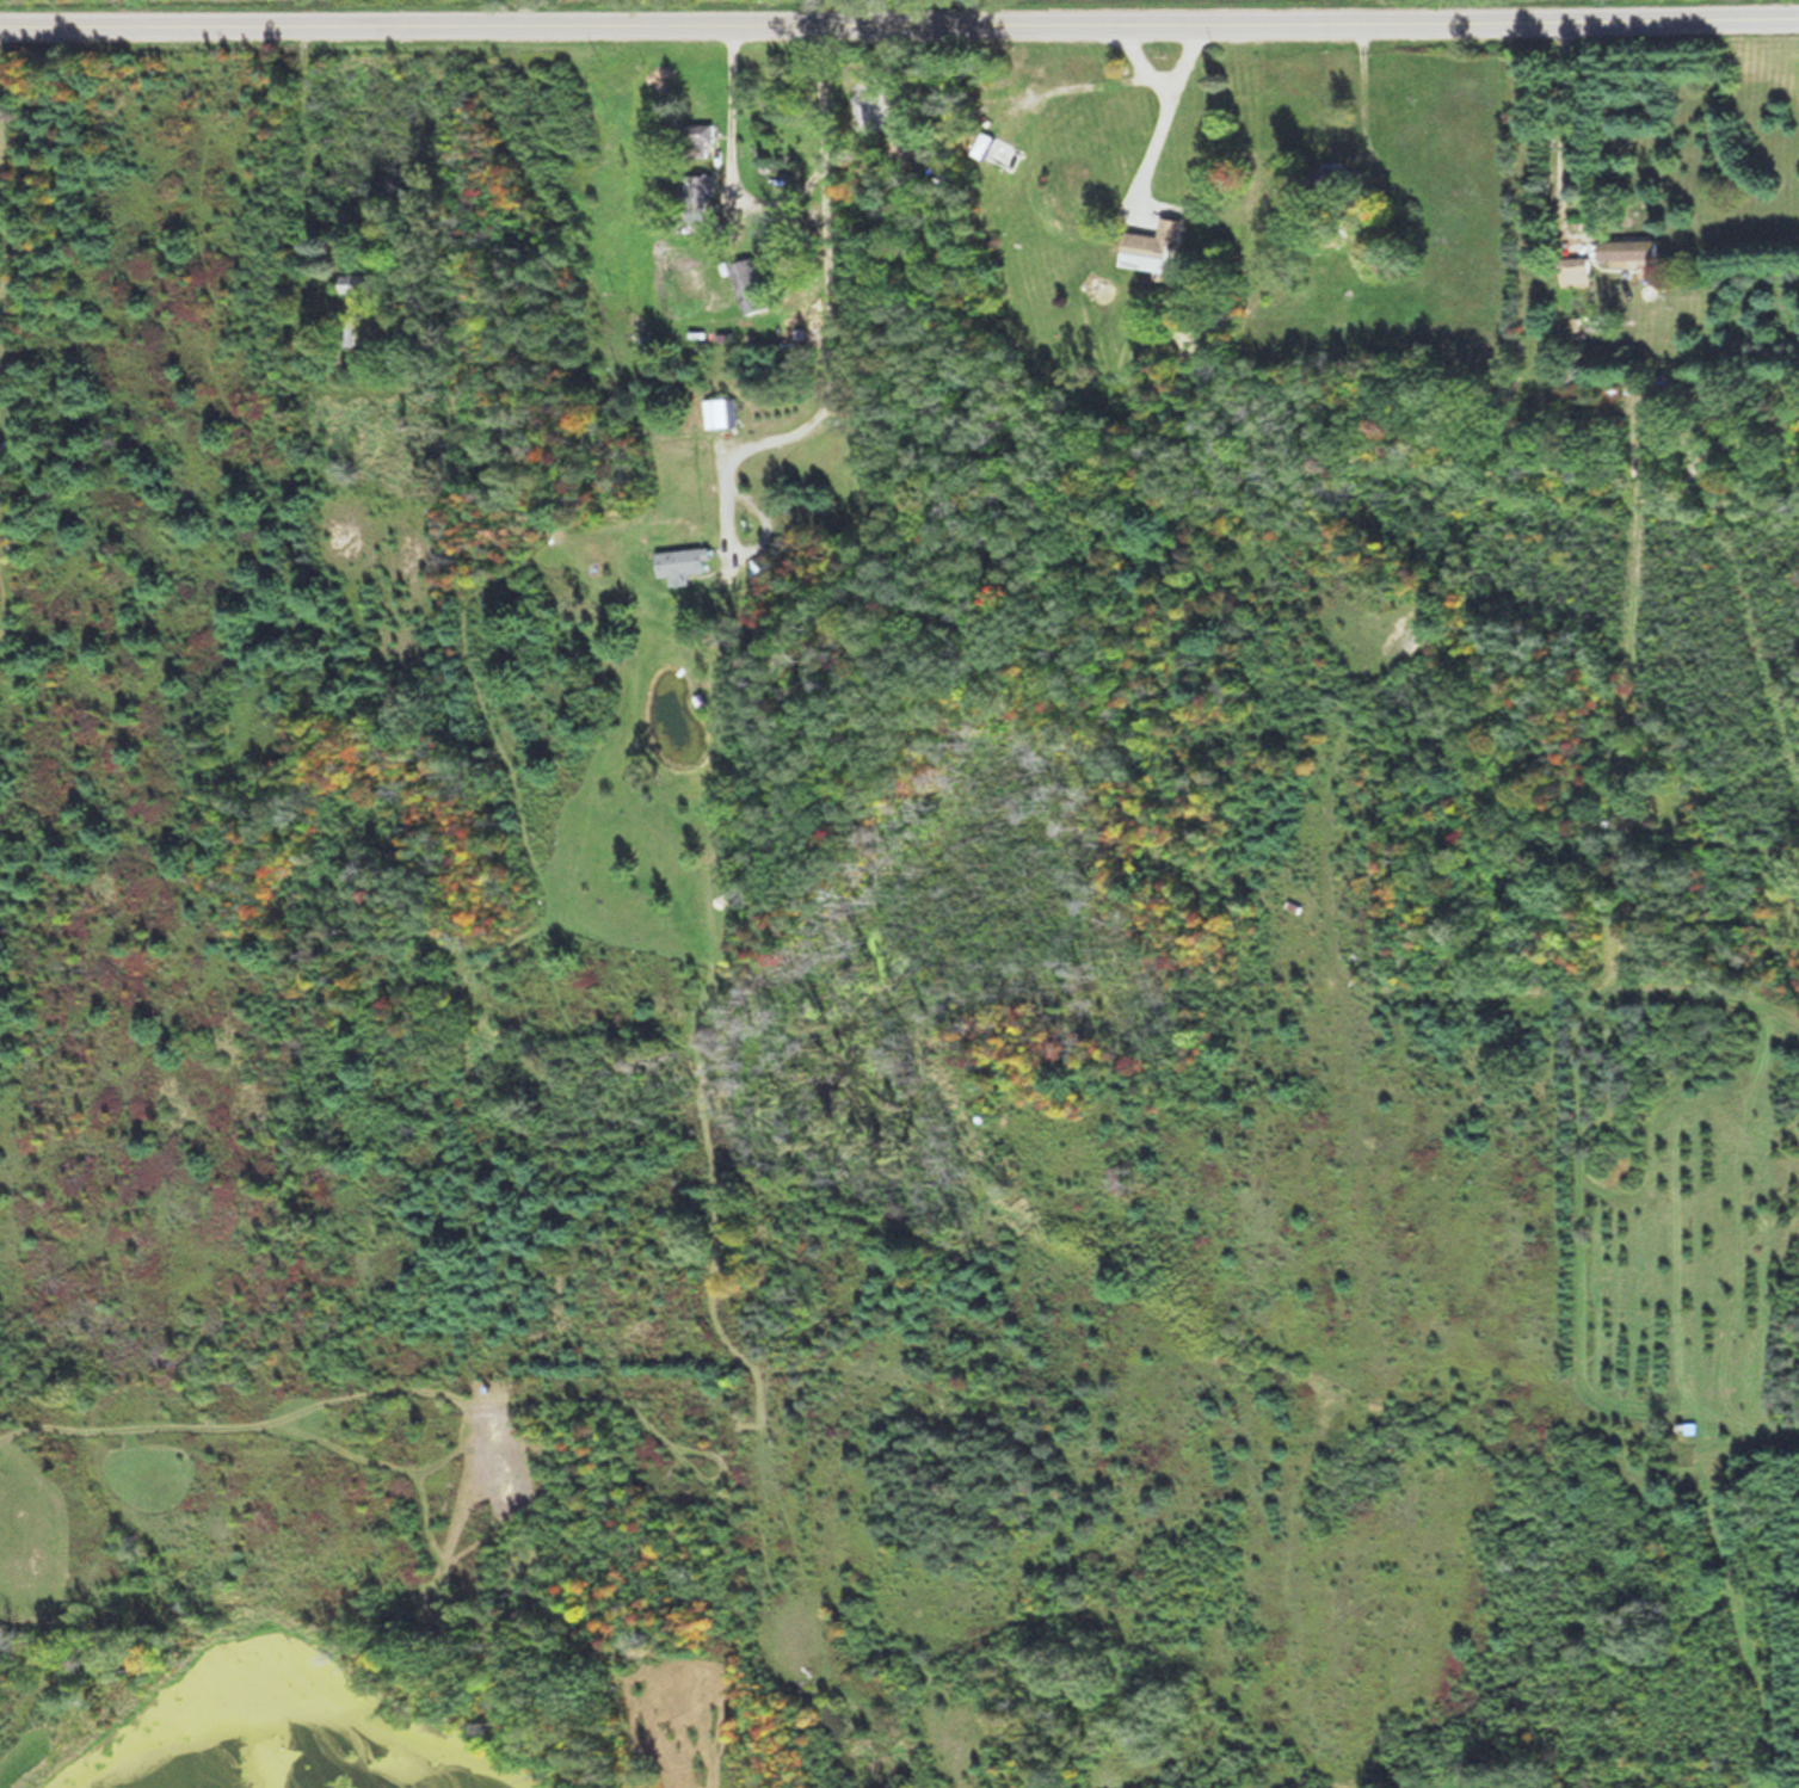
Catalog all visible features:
road: (899, 30)
building: (698, 135)
building: (993, 150)
building: (1156, 243)
building: (1627, 249)
building: (1573, 272)
building: (361, 283)
building: (750, 285)
building: (717, 411)
building: (682, 563)
building: (758, 567)

